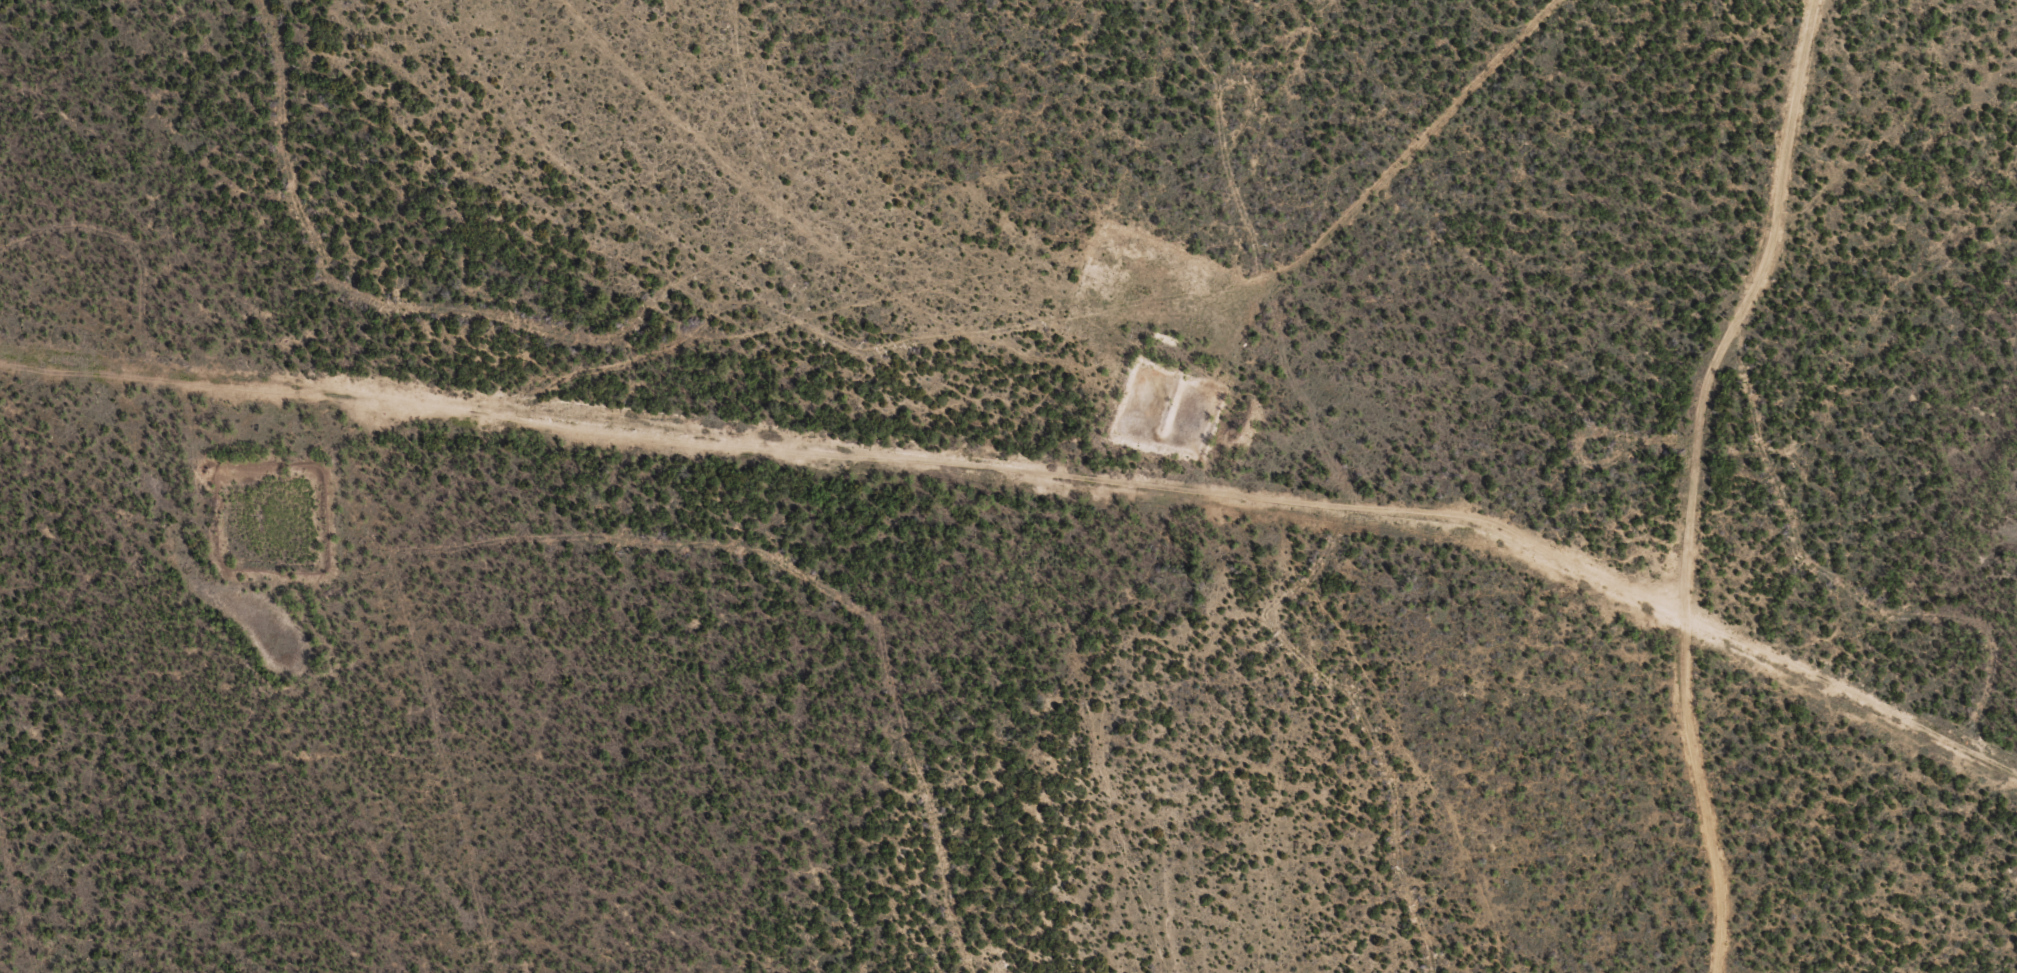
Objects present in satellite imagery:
road: (1753, 482)

